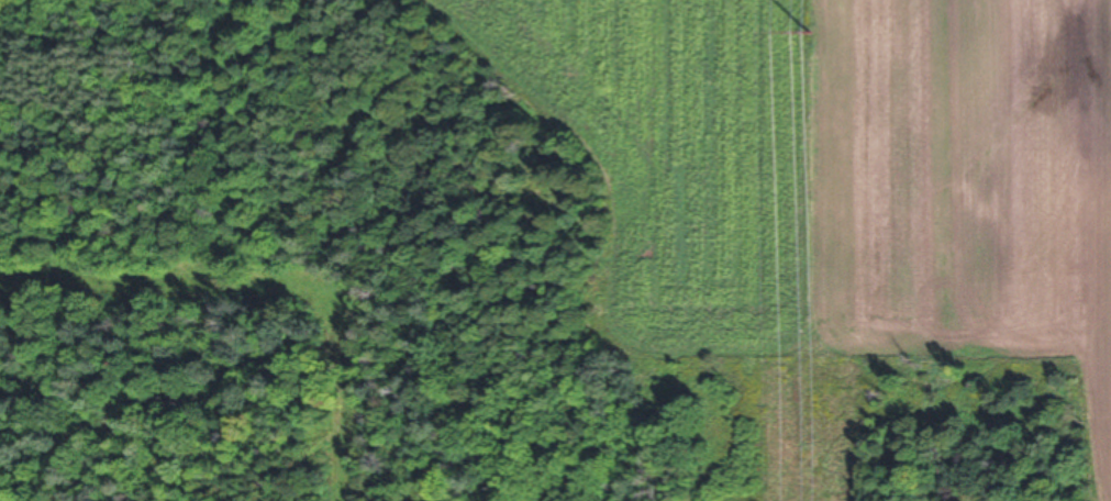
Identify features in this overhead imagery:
power tower: (808, 35)

